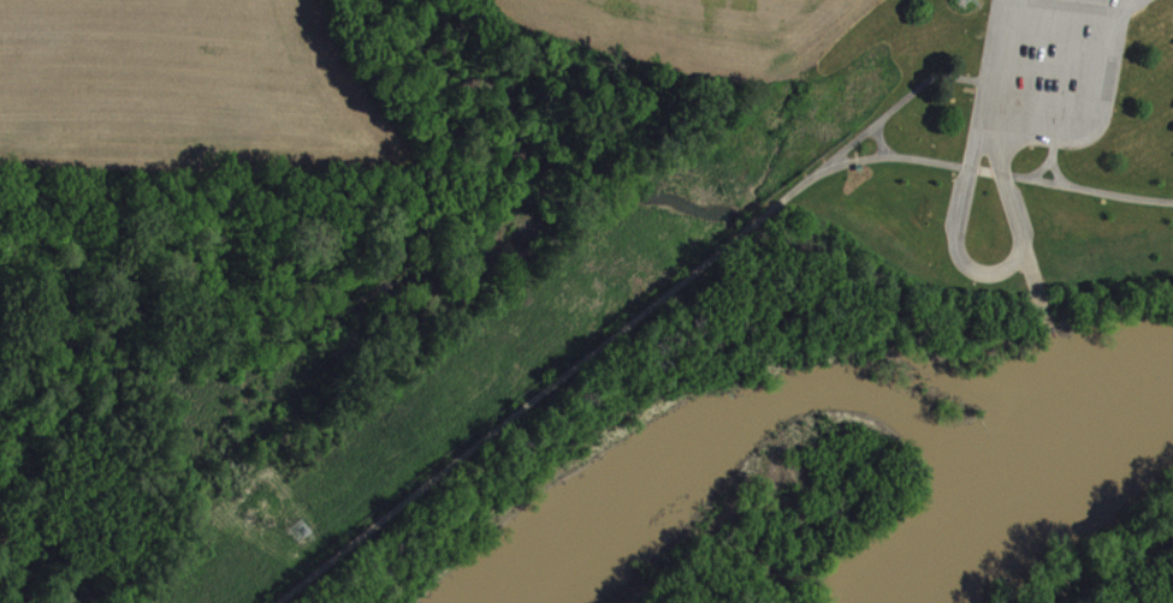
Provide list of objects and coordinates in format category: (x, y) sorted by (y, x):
parking lot: (1049, 71)
park: (994, 145)
road: (1015, 261)
road: (691, 276)
road: (1038, 287)
river: (1070, 458)
power tower: (300, 530)
river: (941, 566)

